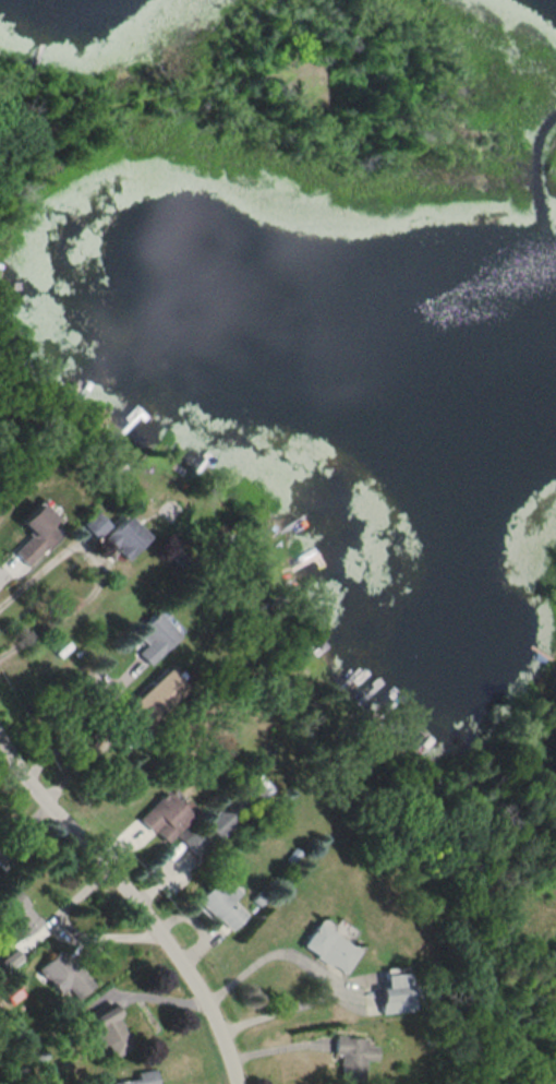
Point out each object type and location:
building: (35, 532)
building: (117, 532)
road: (38, 573)
building: (155, 636)
building: (154, 696)
road: (84, 729)
building: (234, 803)
building: (165, 815)
building: (194, 838)
road: (133, 902)
building: (221, 905)
building: (19, 912)
road: (69, 930)
building: (329, 948)
road: (318, 967)
building: (64, 976)
building: (397, 991)
building: (107, 1032)
building: (352, 1058)
building: (137, 1077)

